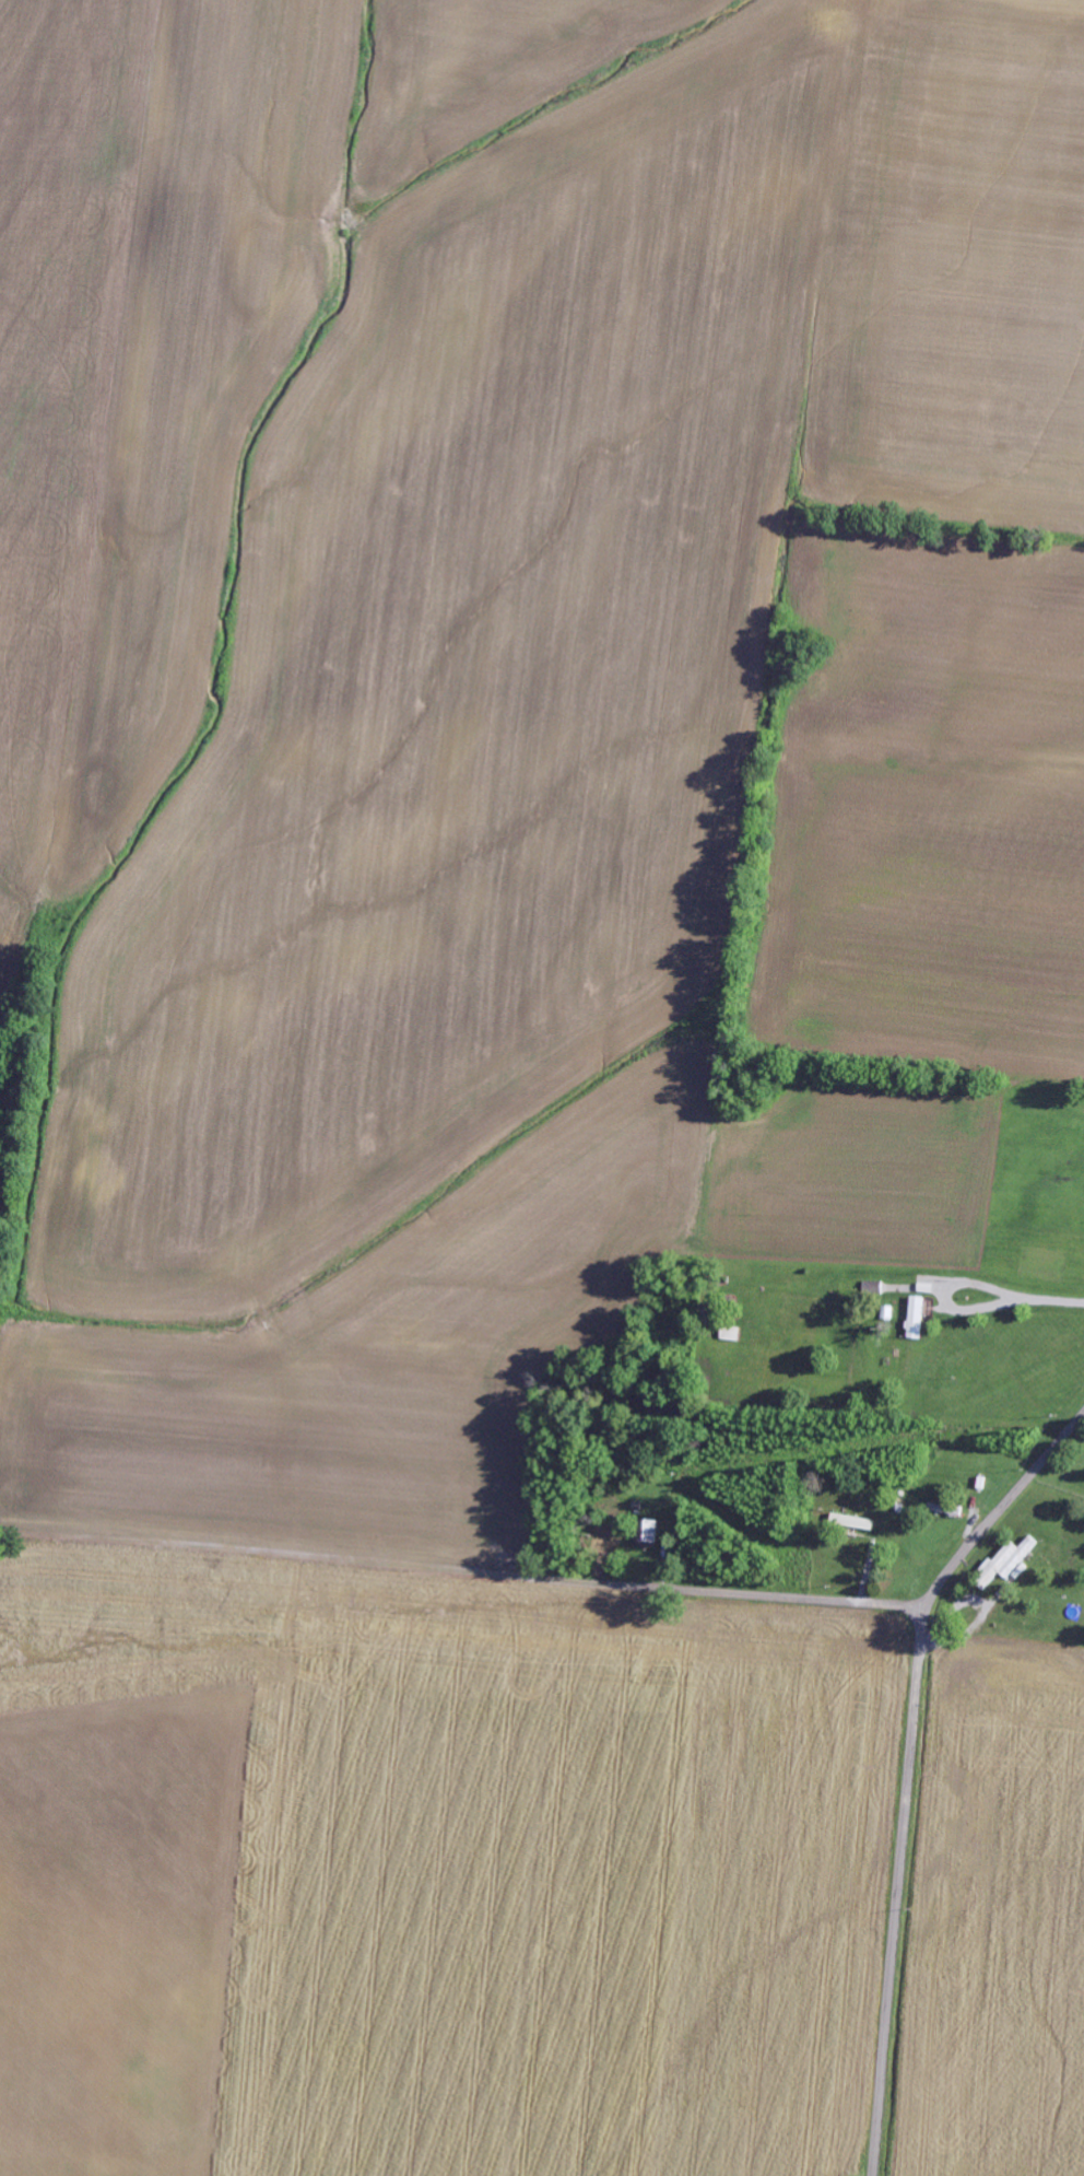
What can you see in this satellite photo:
building: (919, 1315)
building: (858, 1523)
building: (649, 1532)
building: (1005, 1563)
road: (467, 1573)
road: (911, 1770)

